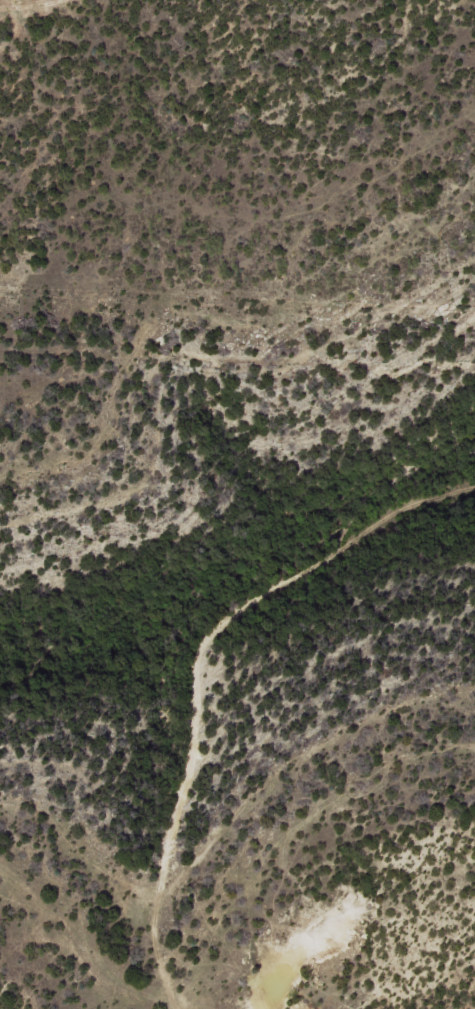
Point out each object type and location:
road: (263, 705)

